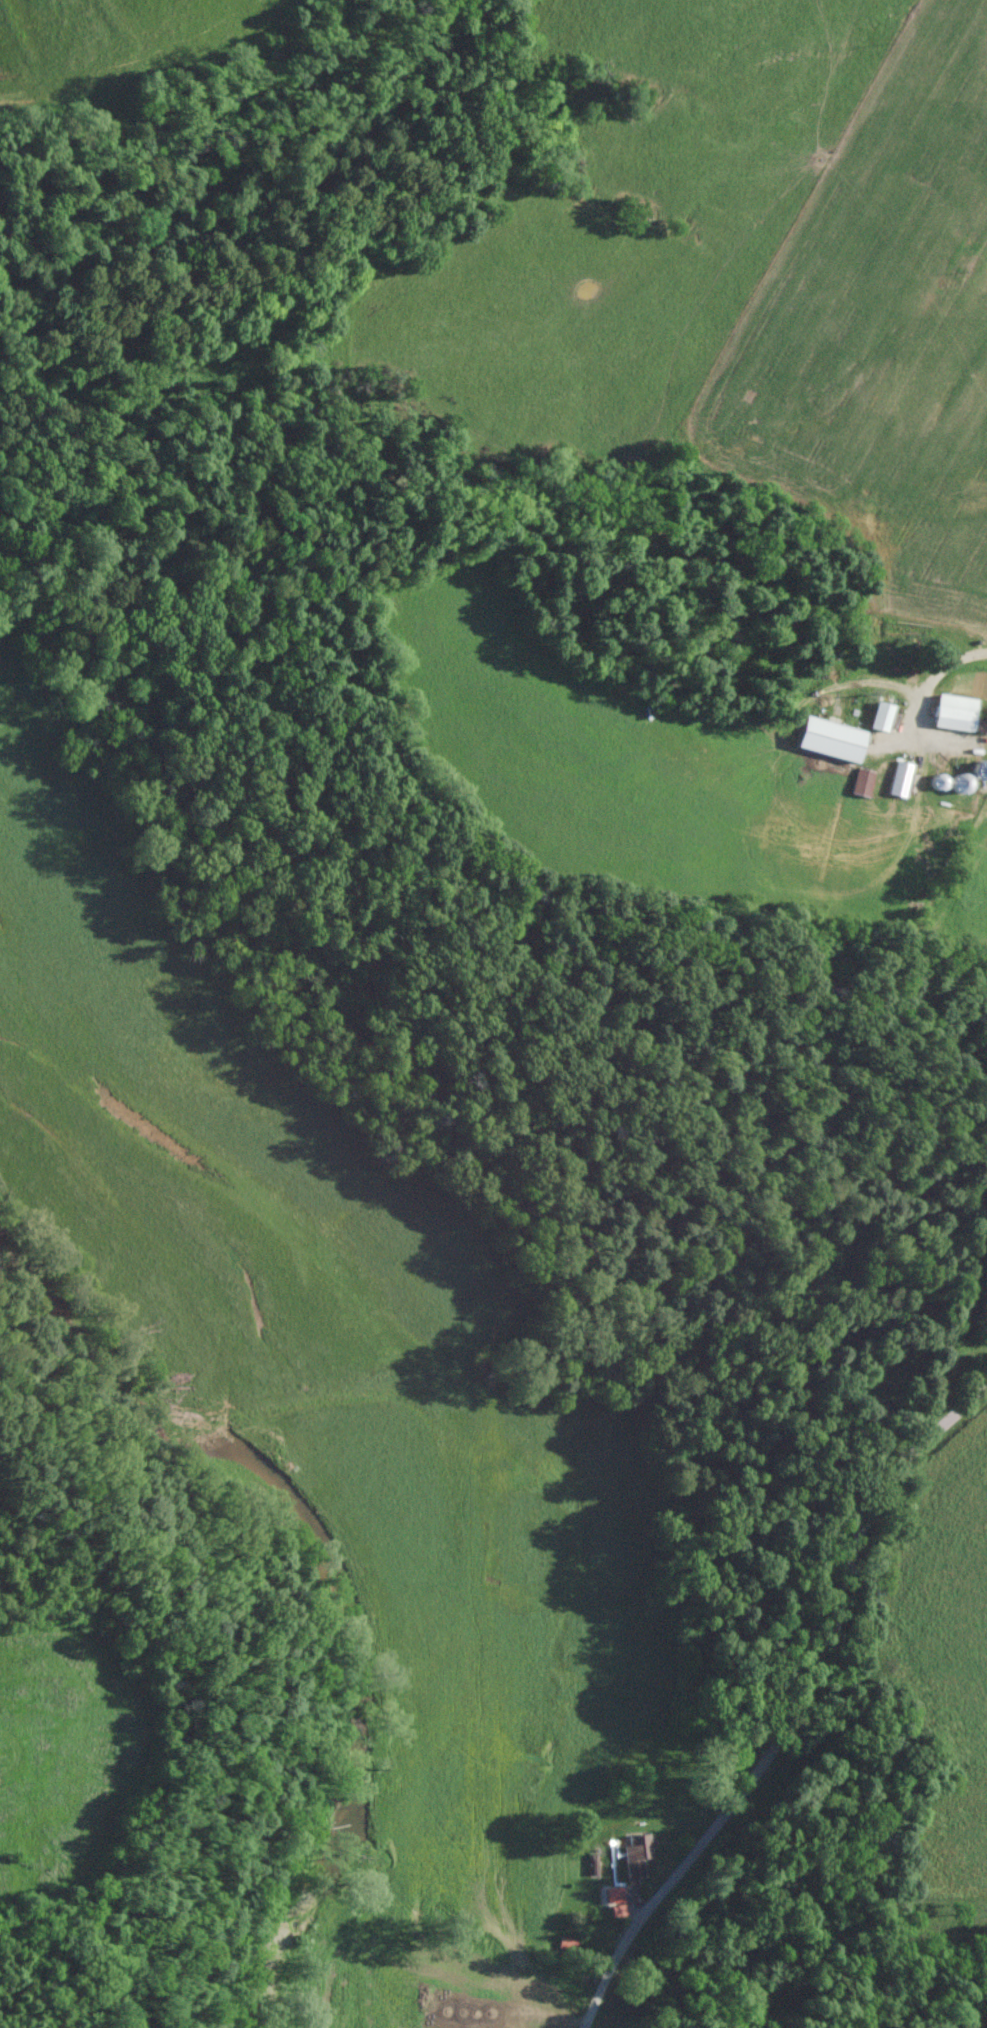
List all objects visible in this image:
building: (882, 716)
building: (954, 718)
building: (843, 737)
building: (901, 778)
building: (864, 782)
road: (811, 1711)
building: (638, 1854)

